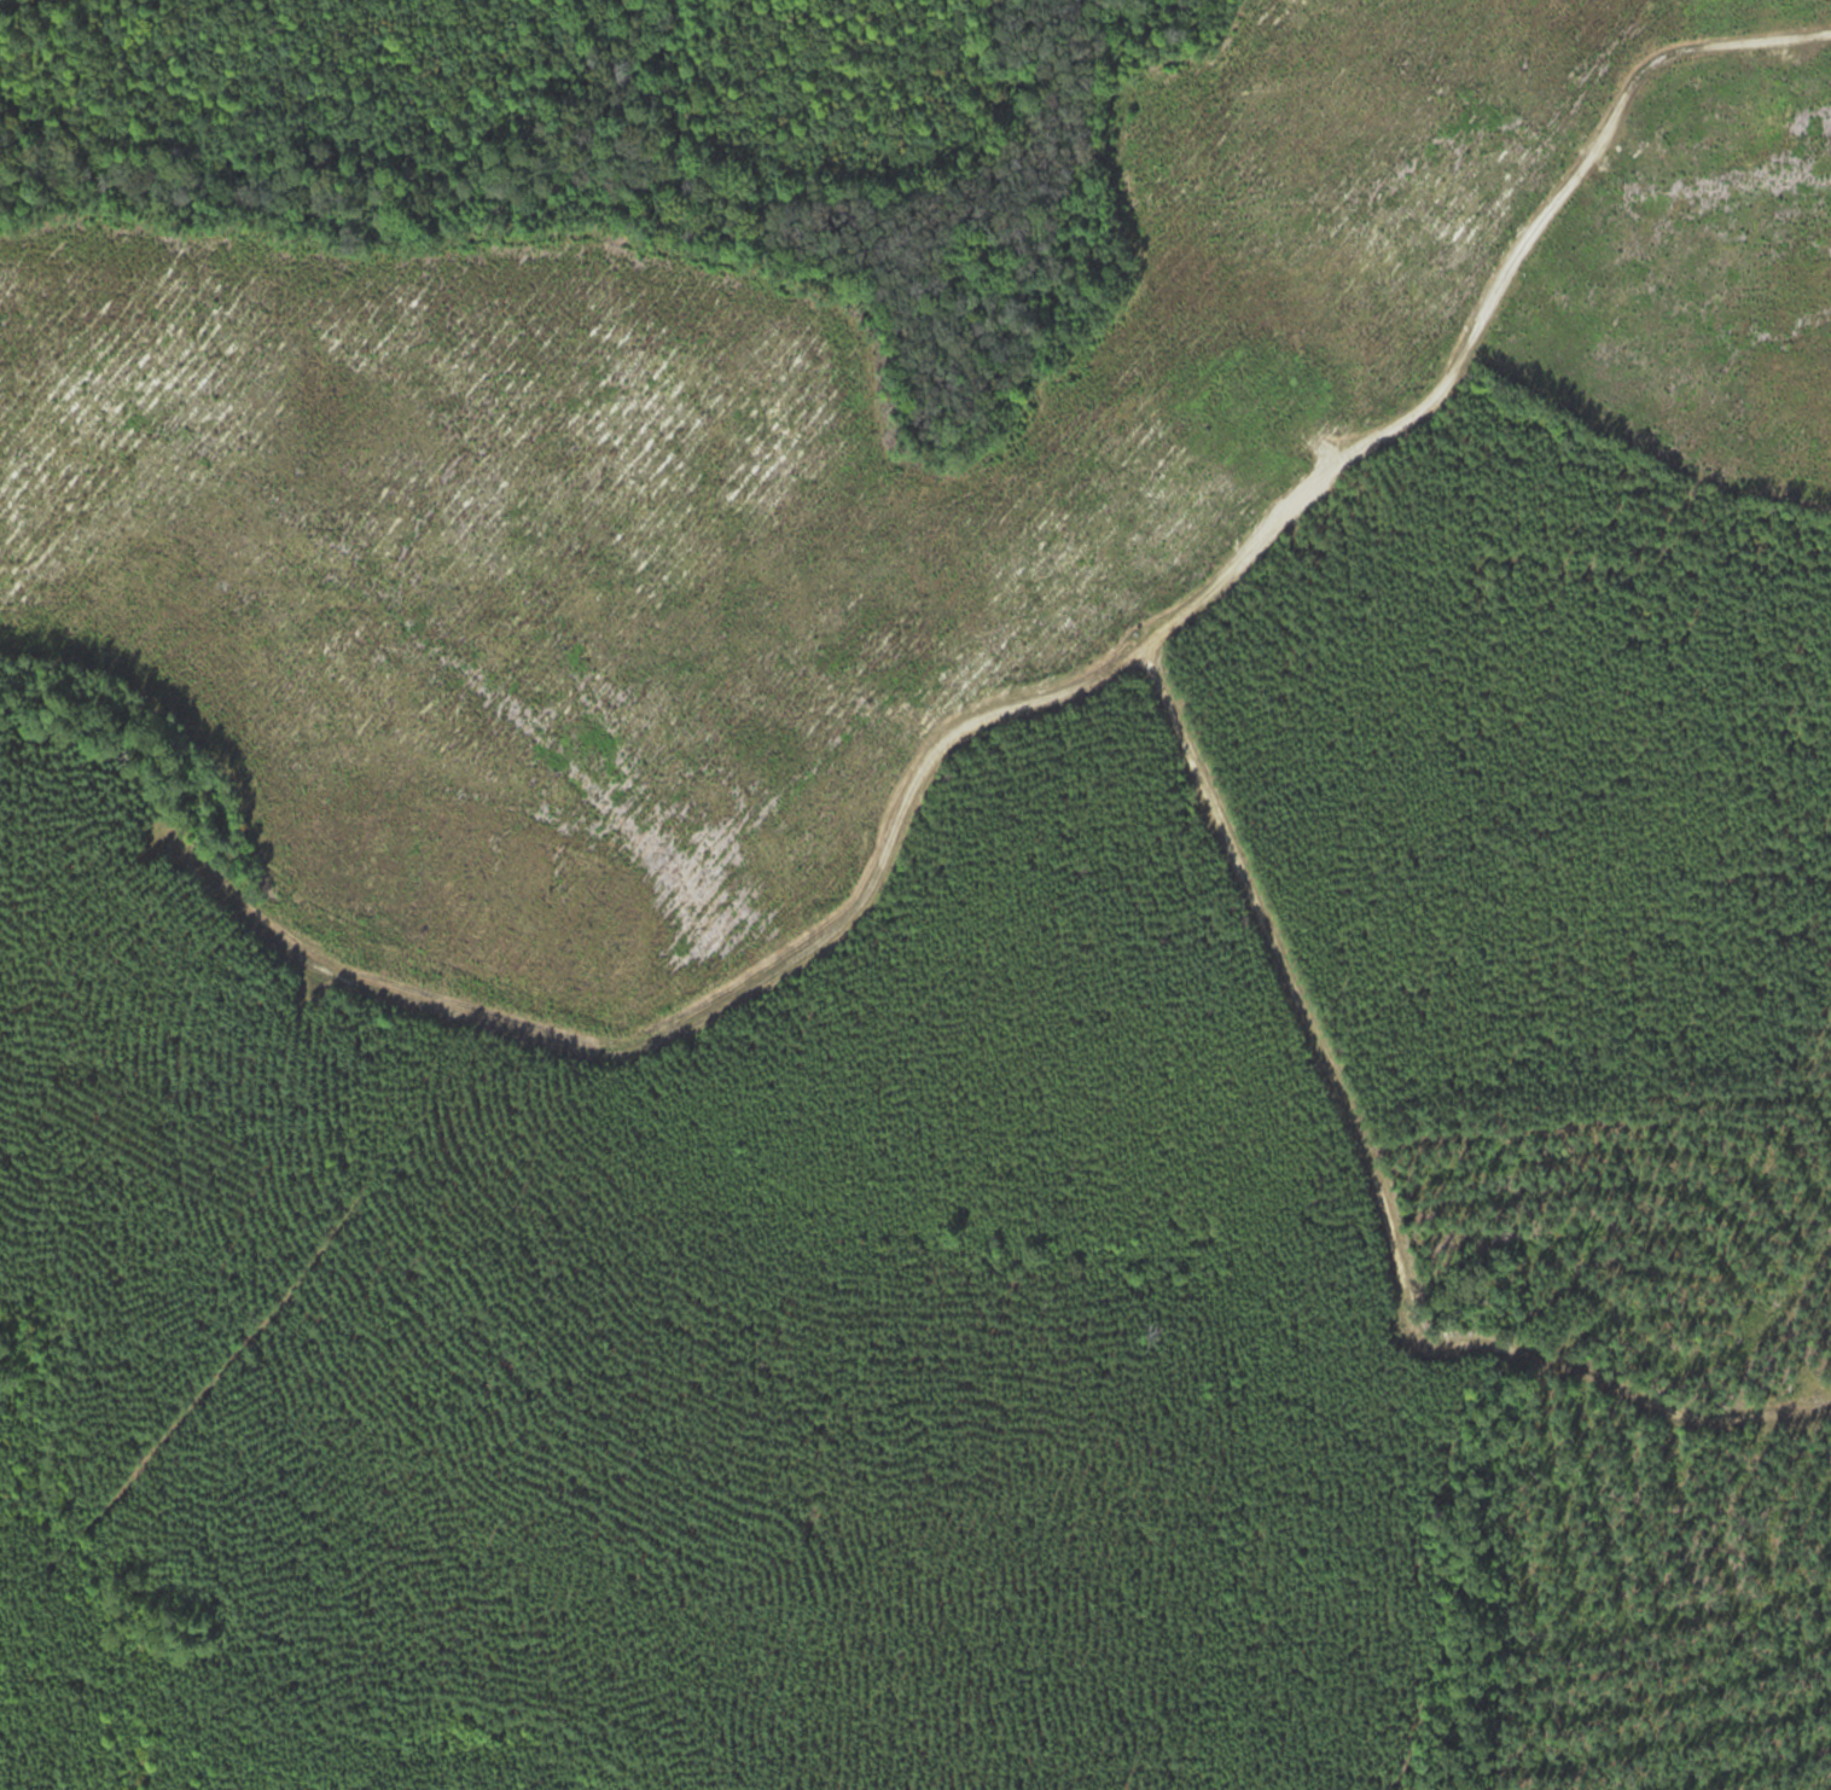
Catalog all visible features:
road: (1600, 112)

